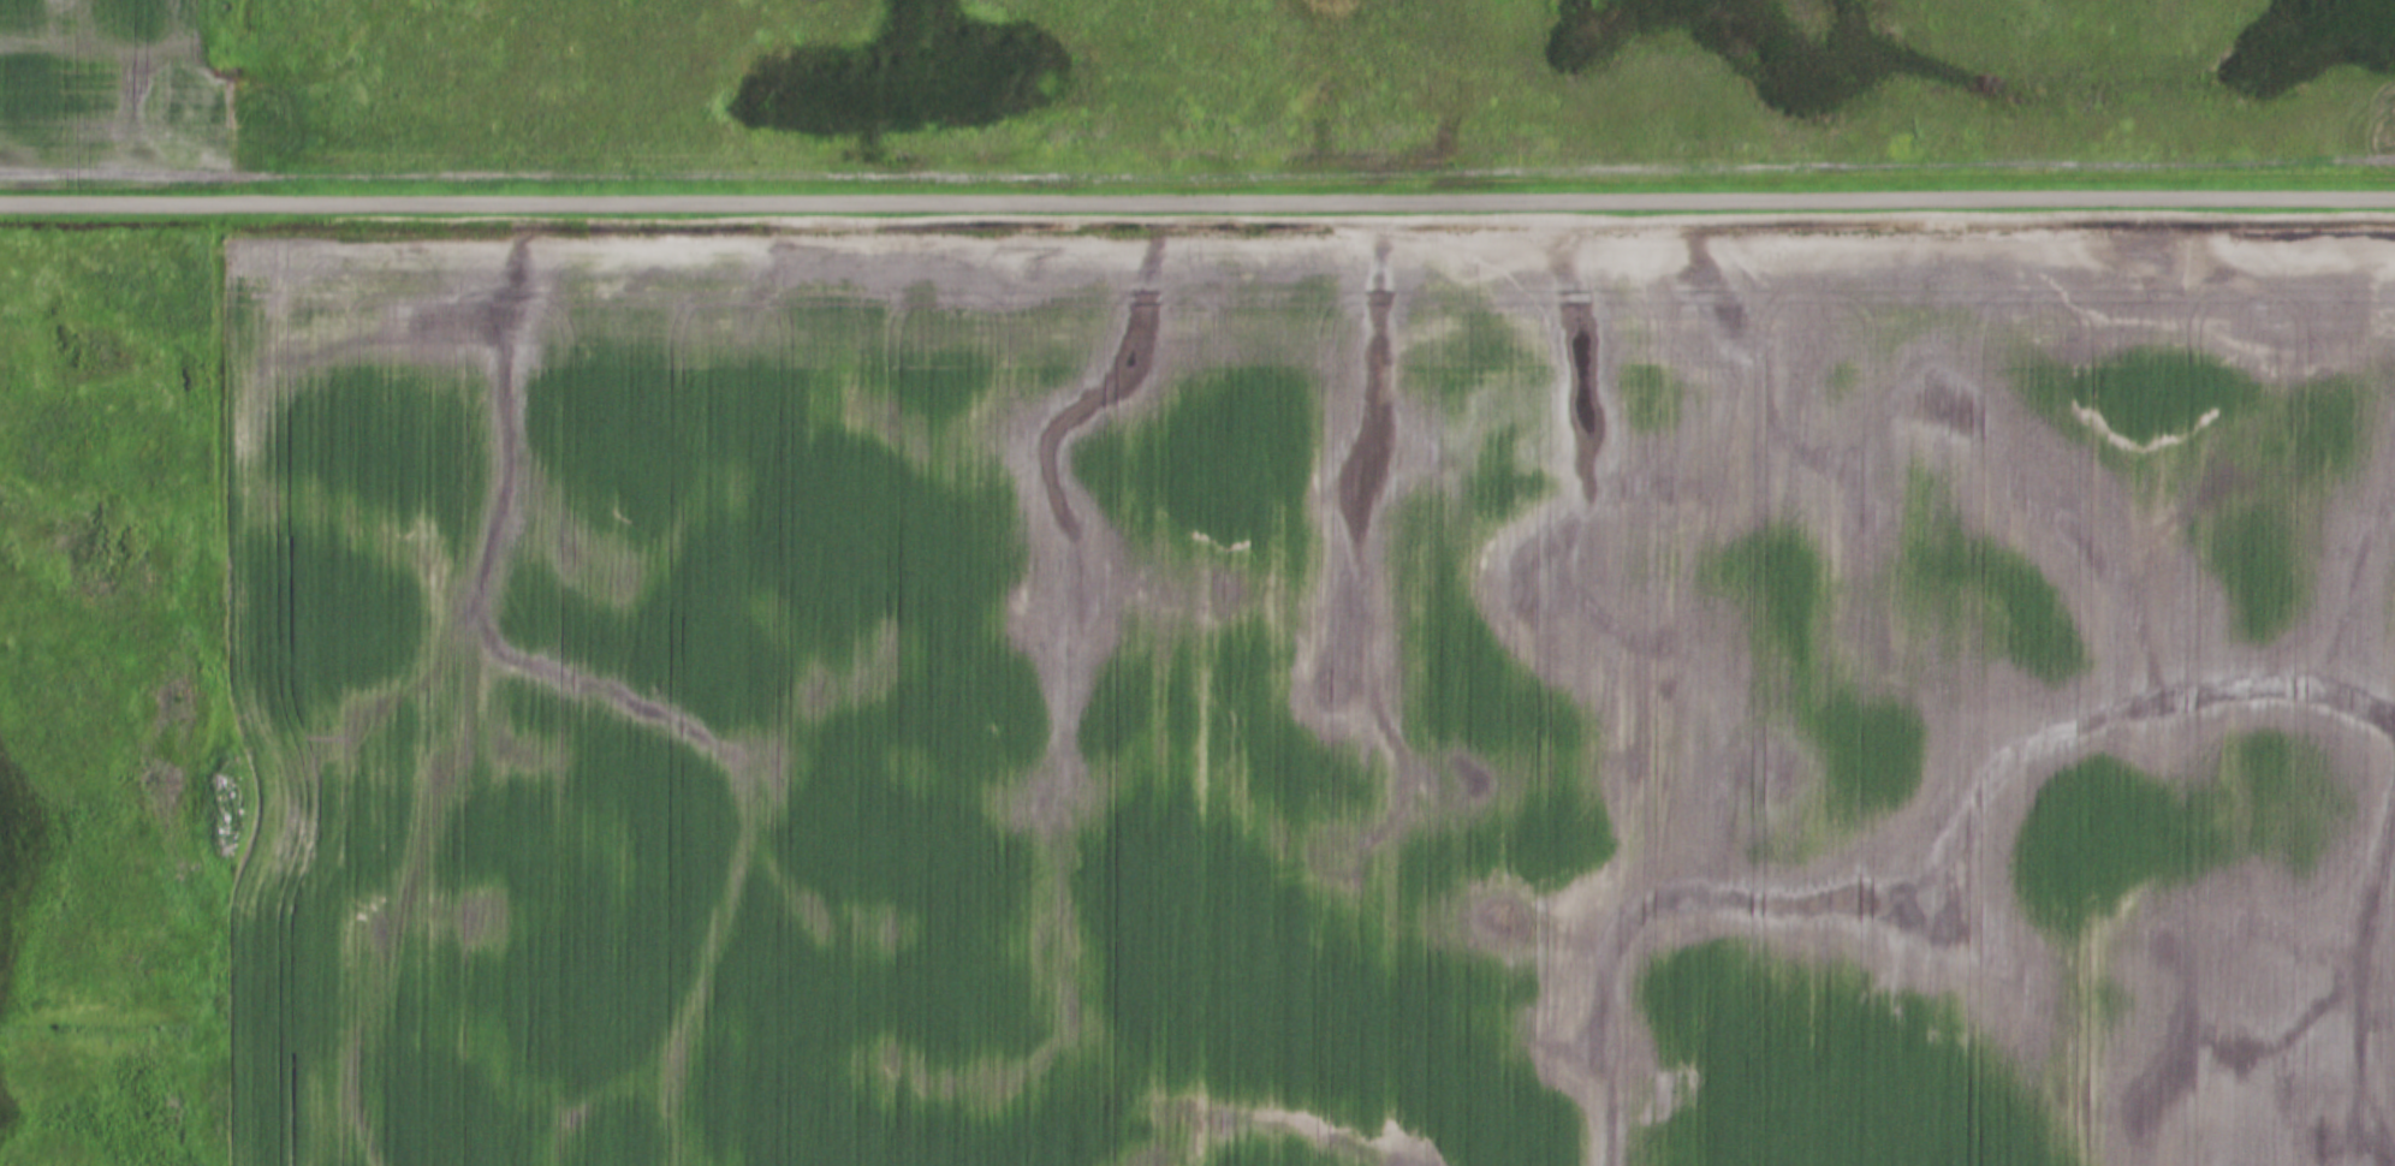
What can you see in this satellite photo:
road: (1197, 200)

